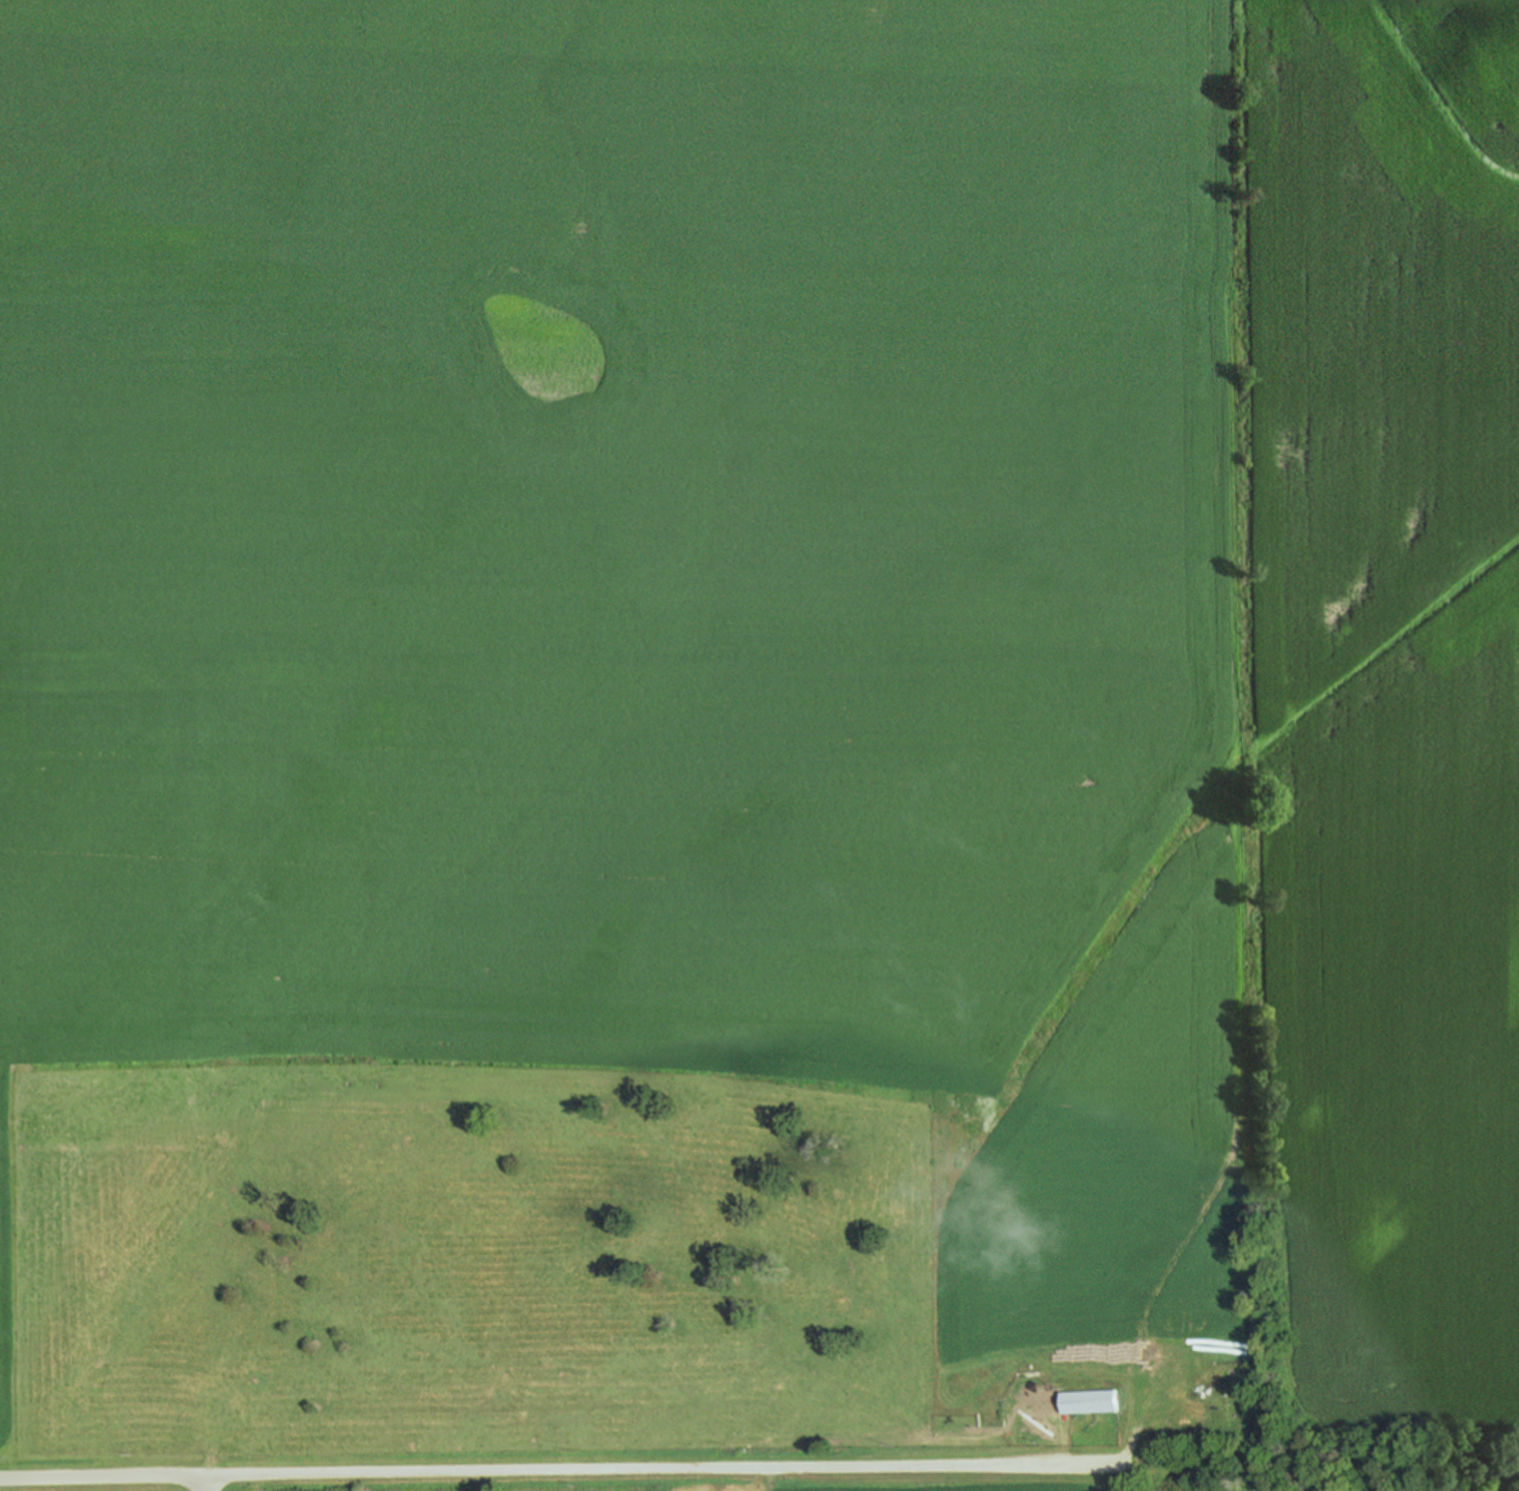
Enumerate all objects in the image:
building: (1088, 1402)
road: (659, 1468)
road: (99, 1482)
road: (200, 1486)

